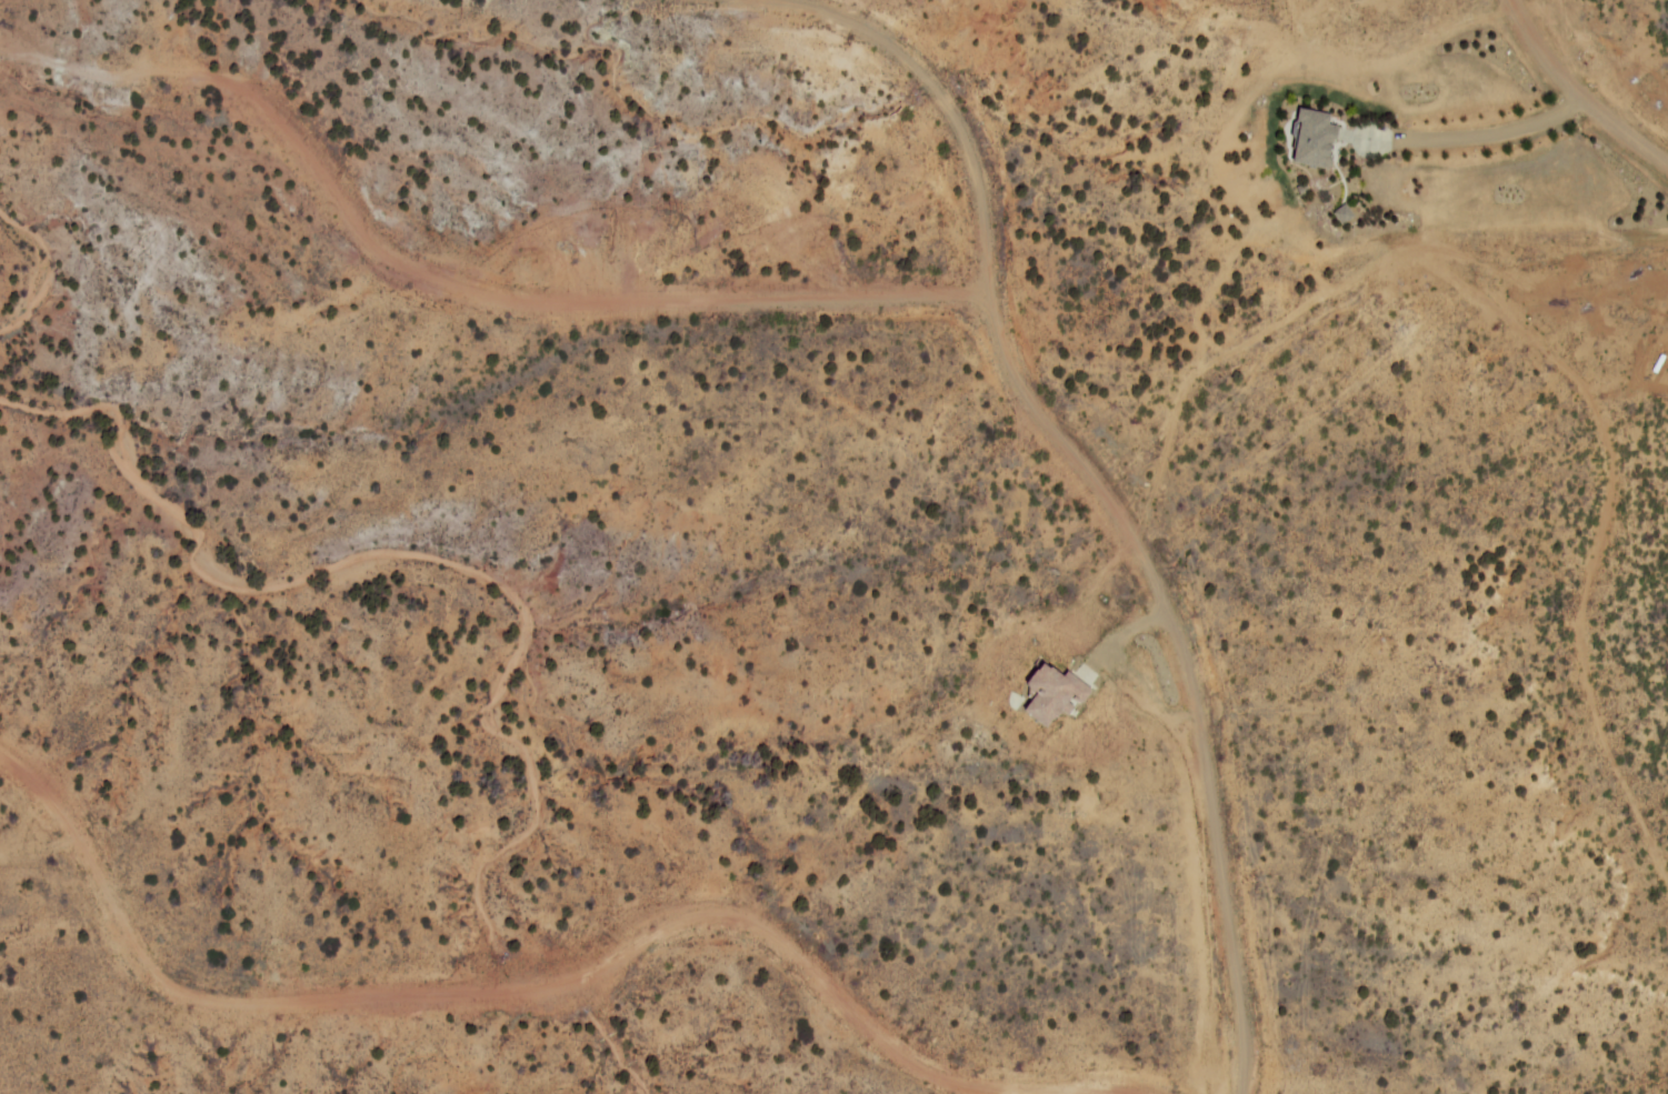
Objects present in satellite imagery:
road: (1577, 94)
road: (1487, 134)
building: (1310, 141)
road: (550, 304)
road: (1105, 498)
building: (1048, 694)
road: (499, 993)

